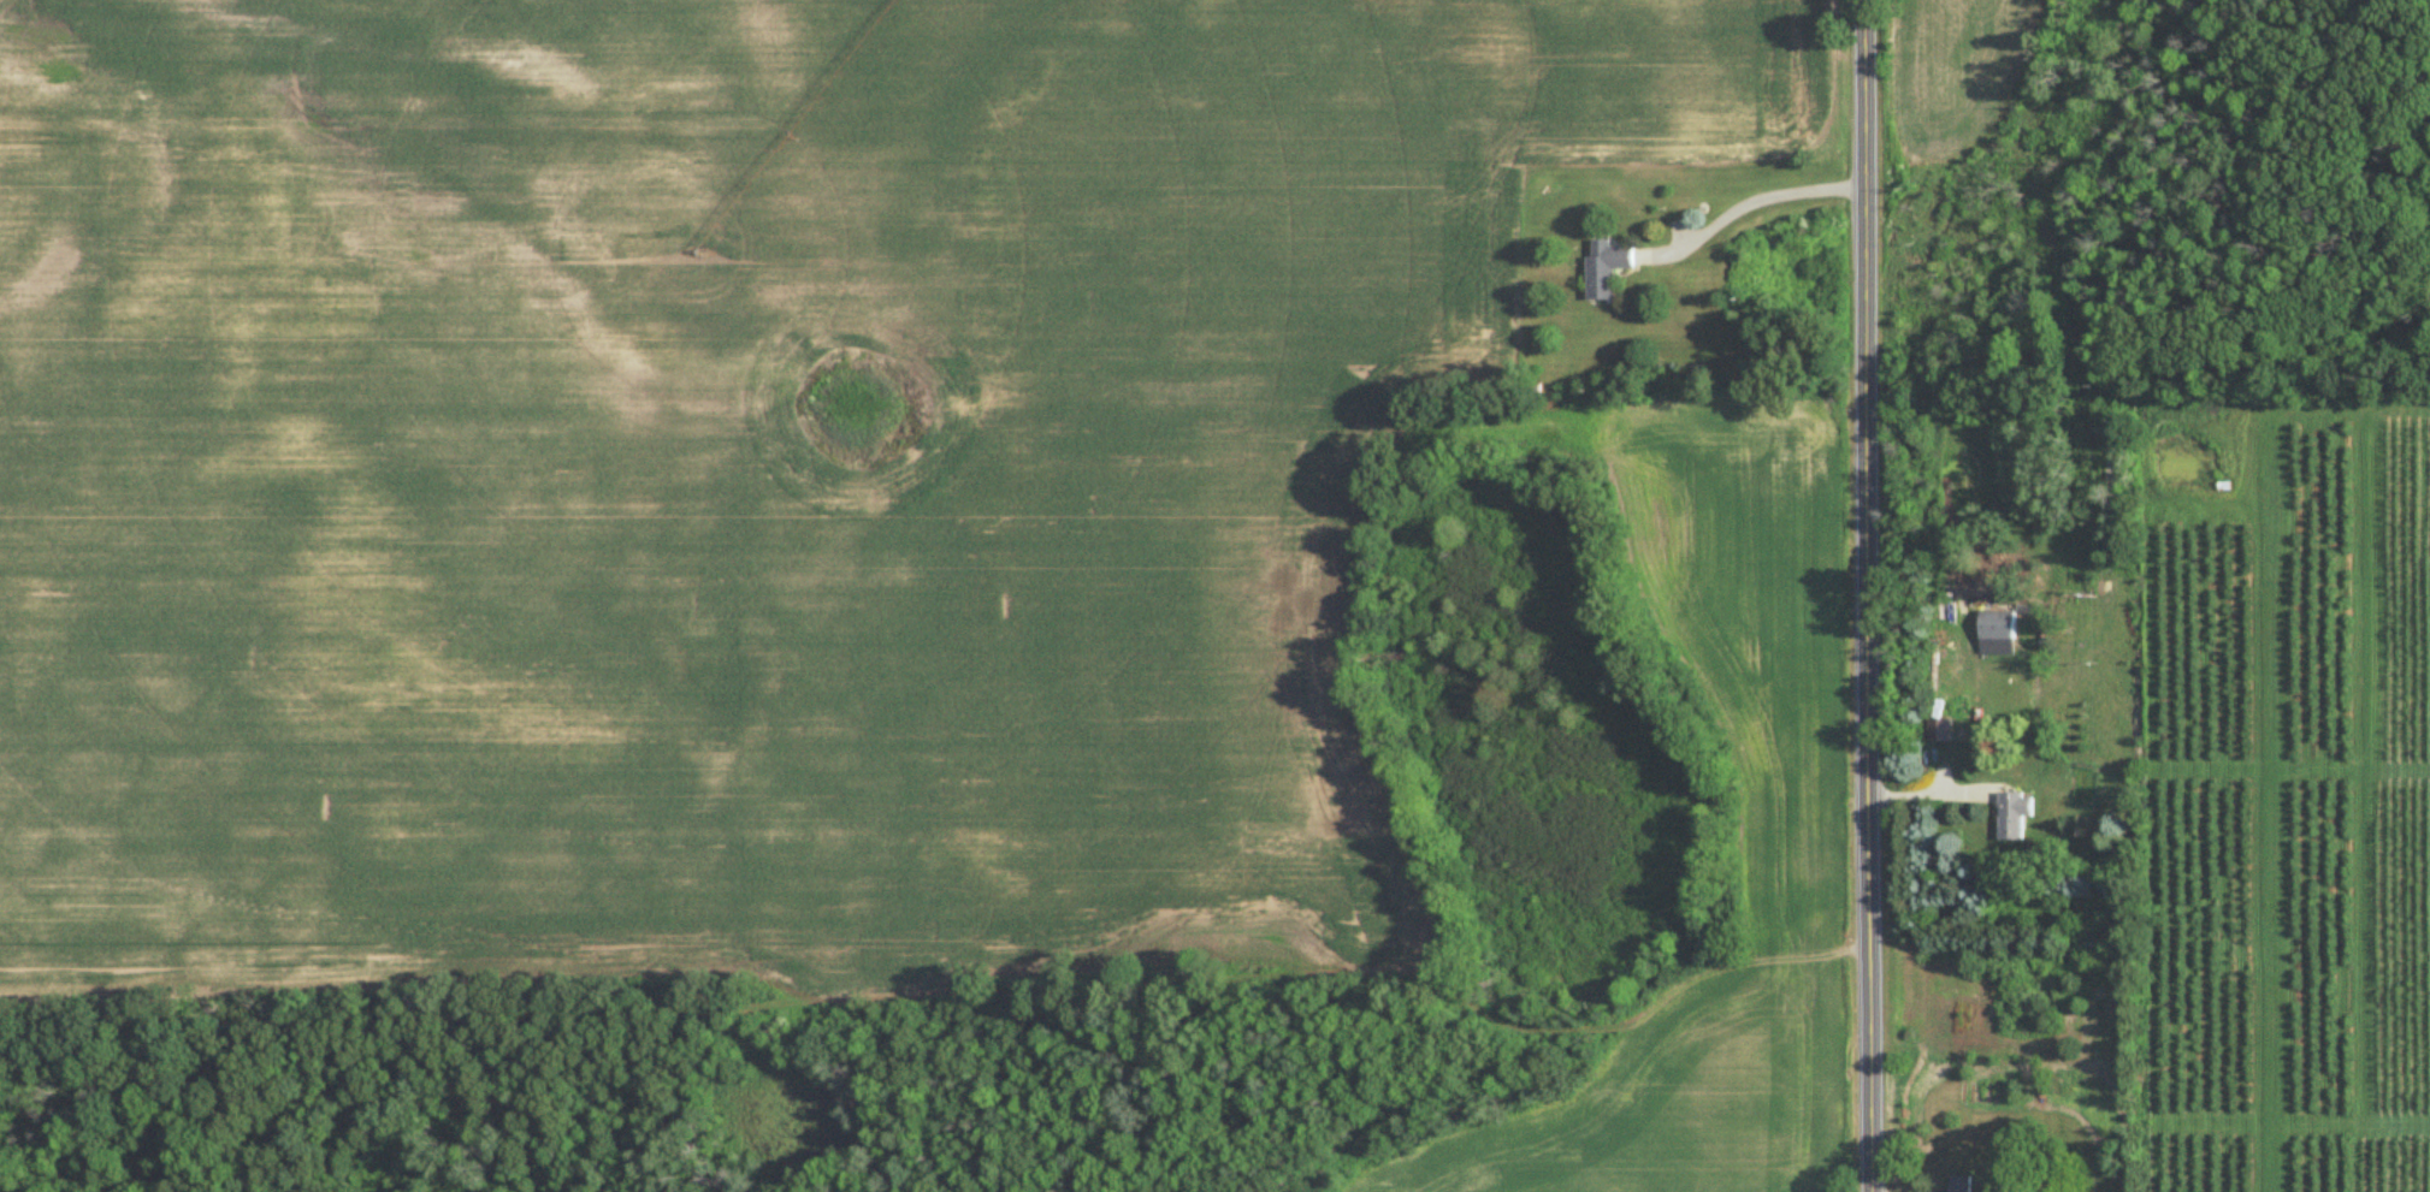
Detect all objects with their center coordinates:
road: (1750, 198)
building: (1606, 267)
road: (1866, 595)
building: (1997, 625)
building: (1939, 731)
building: (2012, 817)
building: (1961, 1185)

